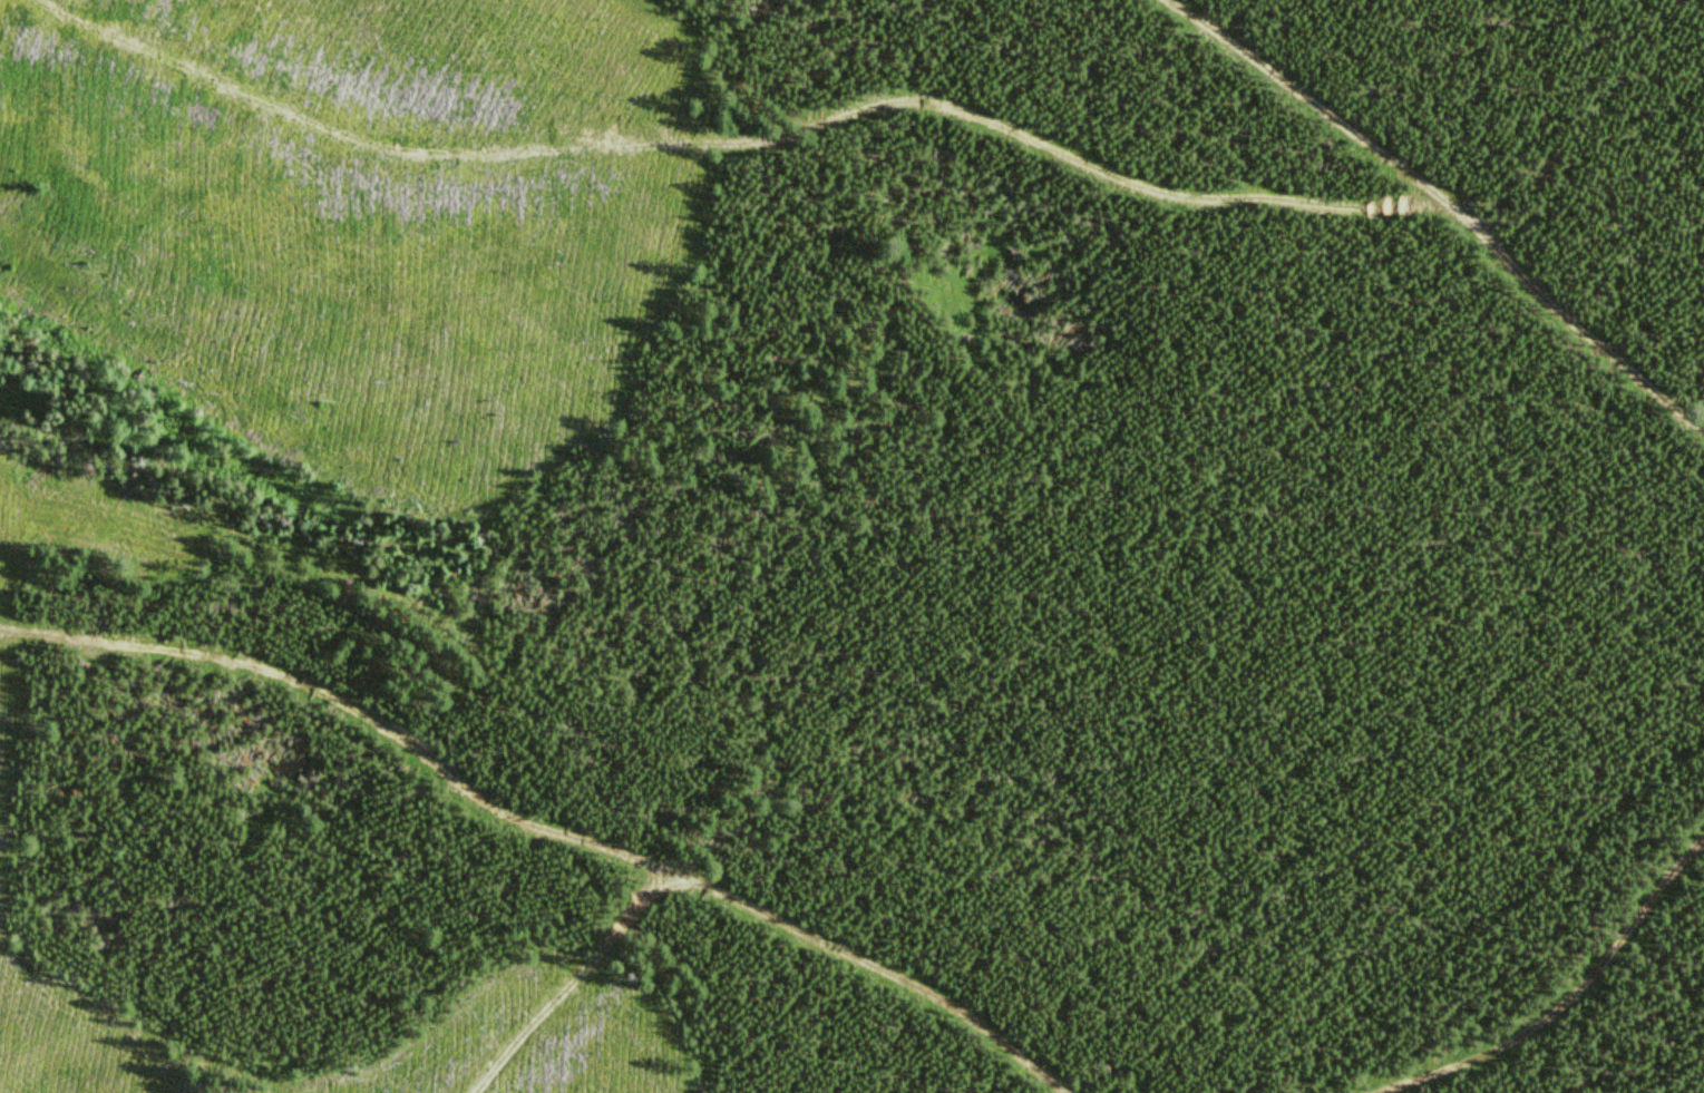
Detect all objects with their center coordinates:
road: (1235, 16)
road: (1449, 199)
road: (541, 827)
road: (1559, 1002)

